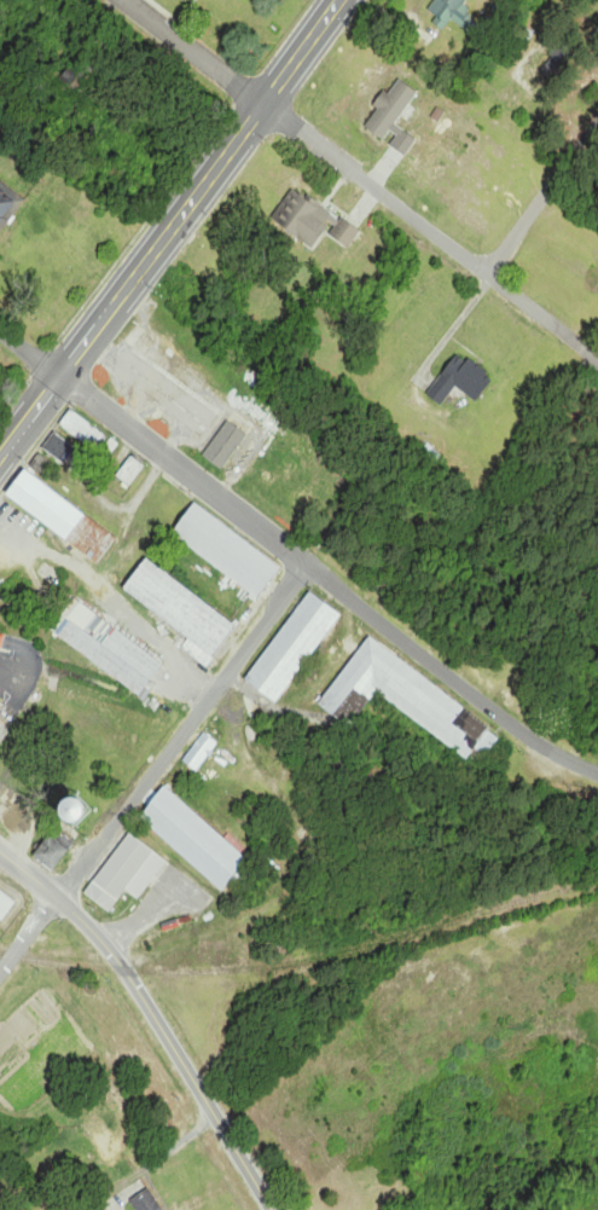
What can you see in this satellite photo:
building: (454, 13)
building: (81, 83)
road: (365, 180)
road: (542, 196)
building: (7, 207)
building: (312, 221)
road: (172, 227)
road: (30, 353)
building: (460, 381)
building: (83, 432)
building: (223, 446)
building: (66, 455)
building: (129, 471)
building: (60, 517)
building: (225, 551)
road: (327, 577)
building: (180, 612)
building: (0, 641)
building: (106, 648)
building: (292, 648)
building: (406, 701)
building: (193, 840)
building: (51, 855)
building: (126, 874)
building: (5, 904)
road: (27, 934)
railway: (302, 960)
road: (153, 1015)
building: (146, 1200)

